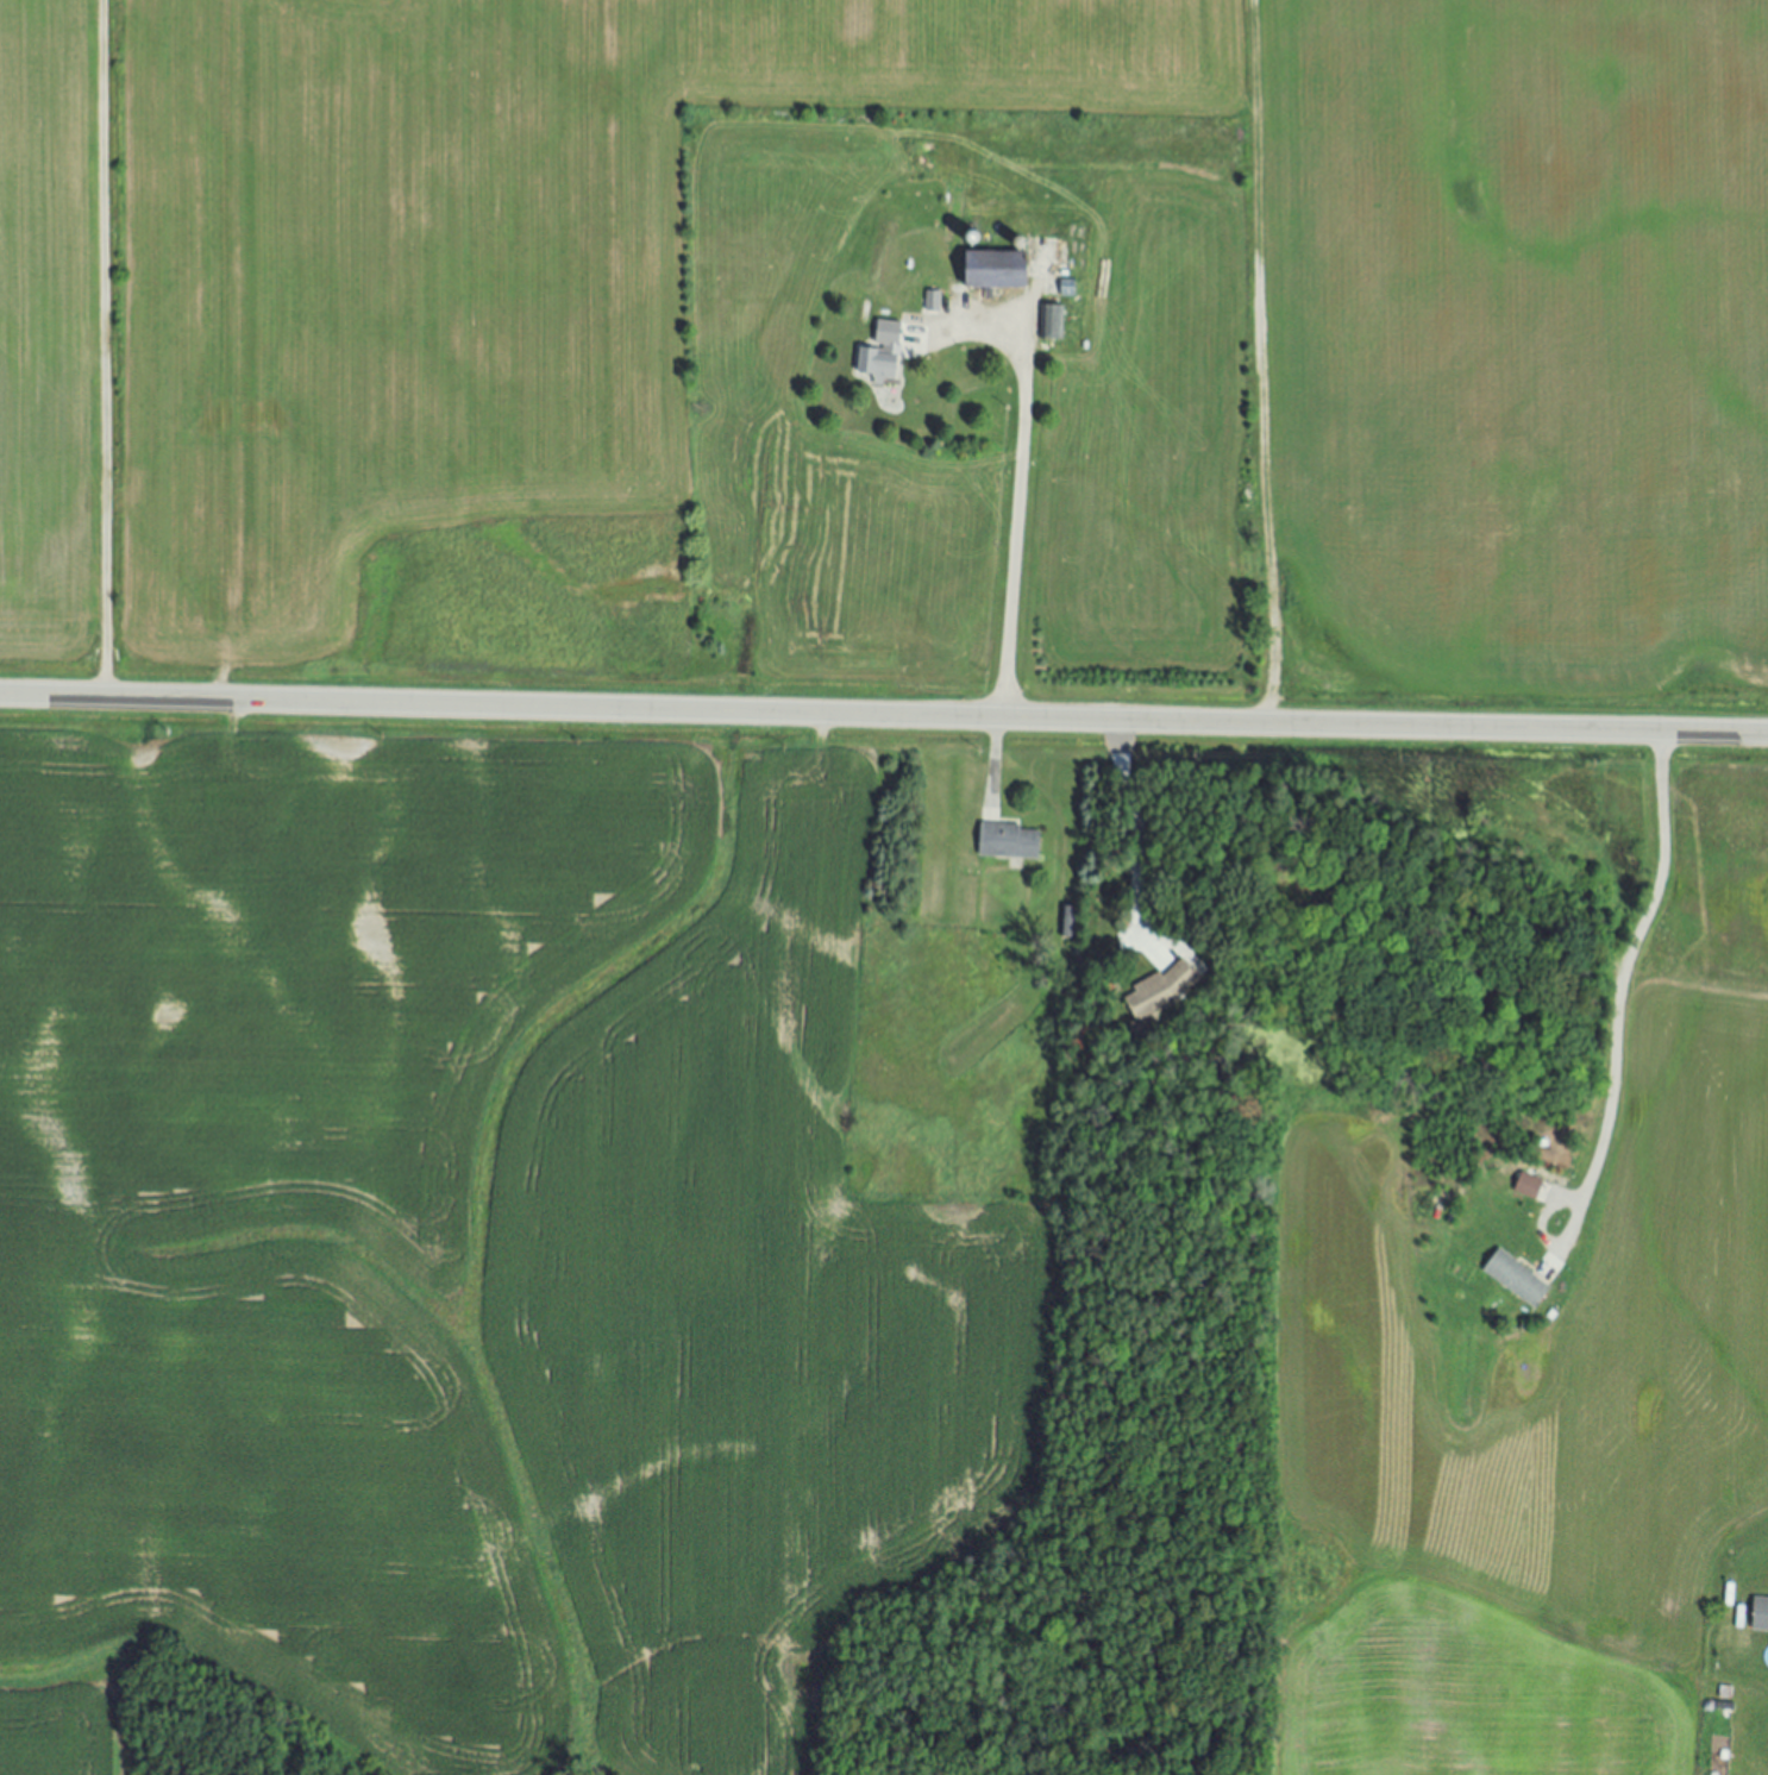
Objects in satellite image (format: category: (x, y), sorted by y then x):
building: (997, 270)
building: (932, 302)
building: (1051, 324)
road: (105, 350)
building: (879, 358)
road: (1018, 503)
road: (884, 715)
road: (996, 761)
road: (1124, 827)
building: (1009, 842)
building: (1151, 945)
road: (1617, 985)
building: (1161, 991)
building: (1526, 1188)
building: (1516, 1280)
building: (1760, 1614)

